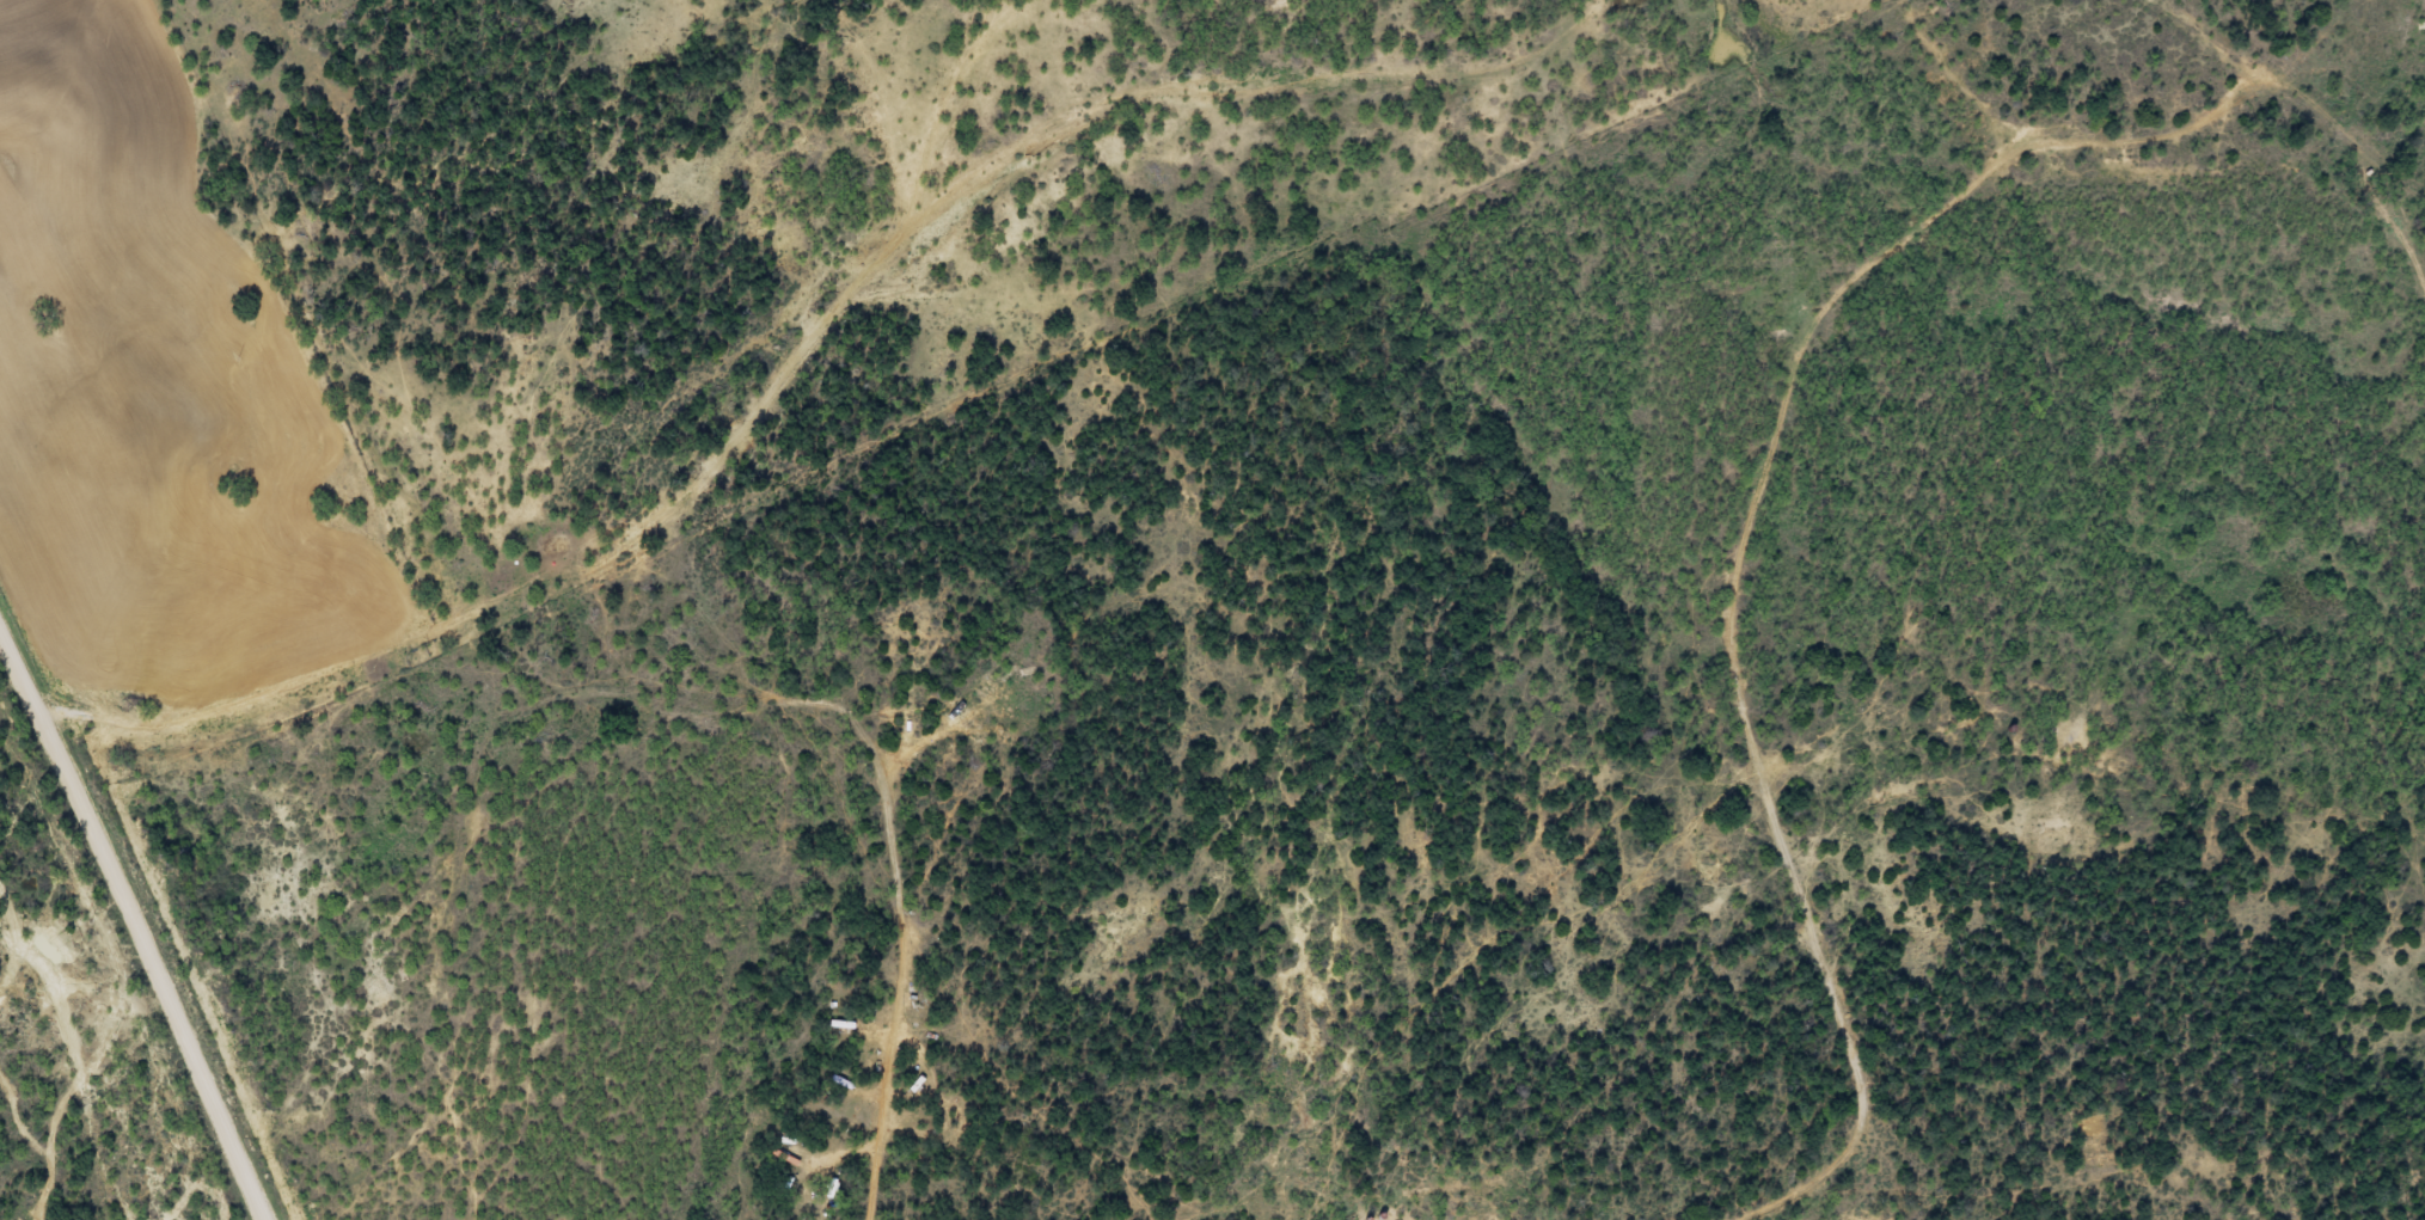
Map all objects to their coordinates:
road: (772, 454)
road: (1795, 502)
road: (135, 902)
road: (906, 991)

